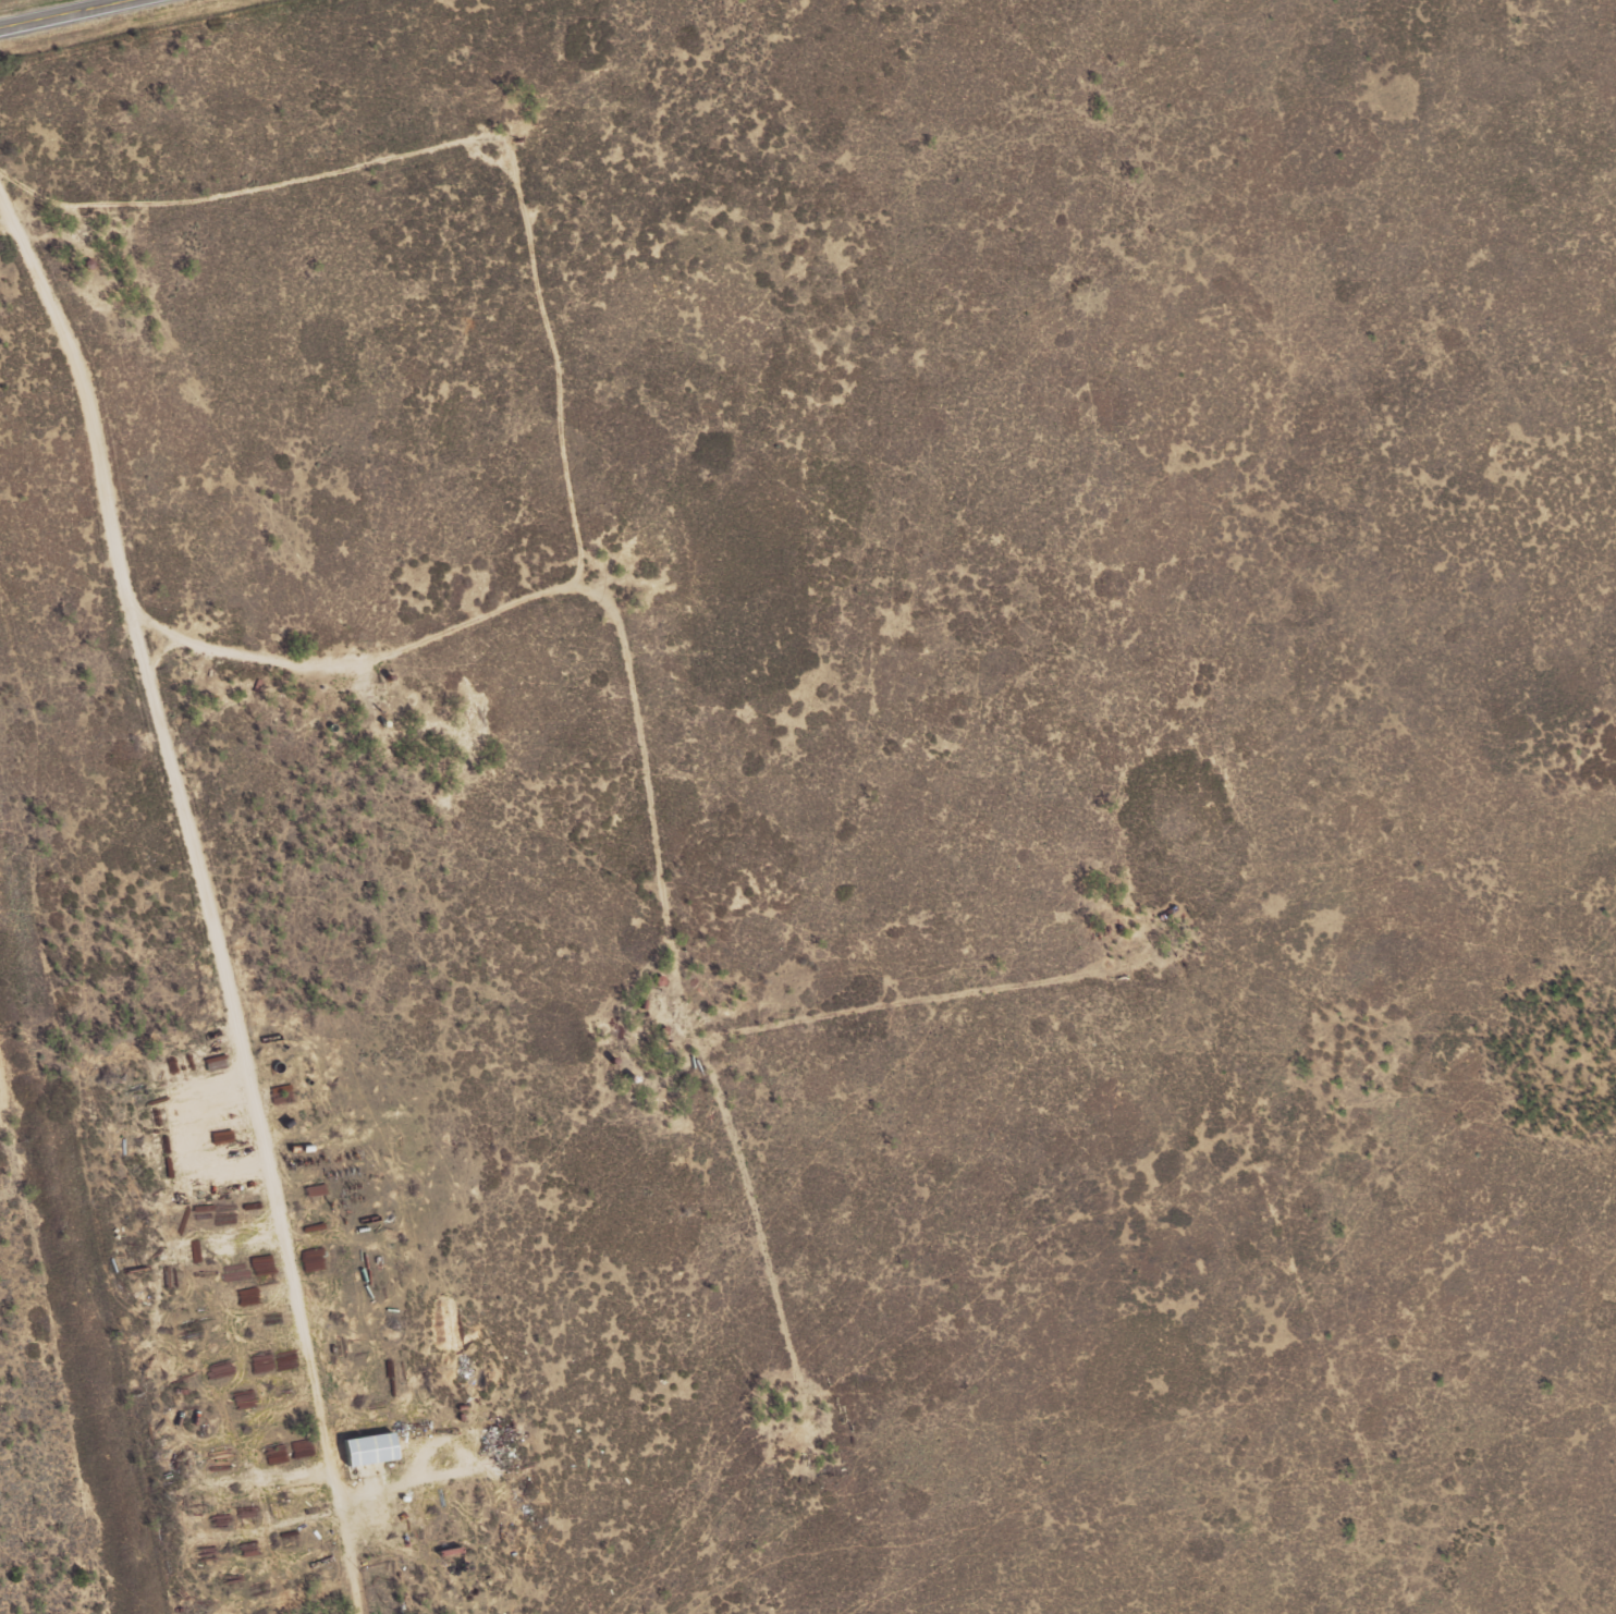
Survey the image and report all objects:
road: (60, 13)
road: (176, 924)
road: (77, 1112)
building: (370, 1450)

